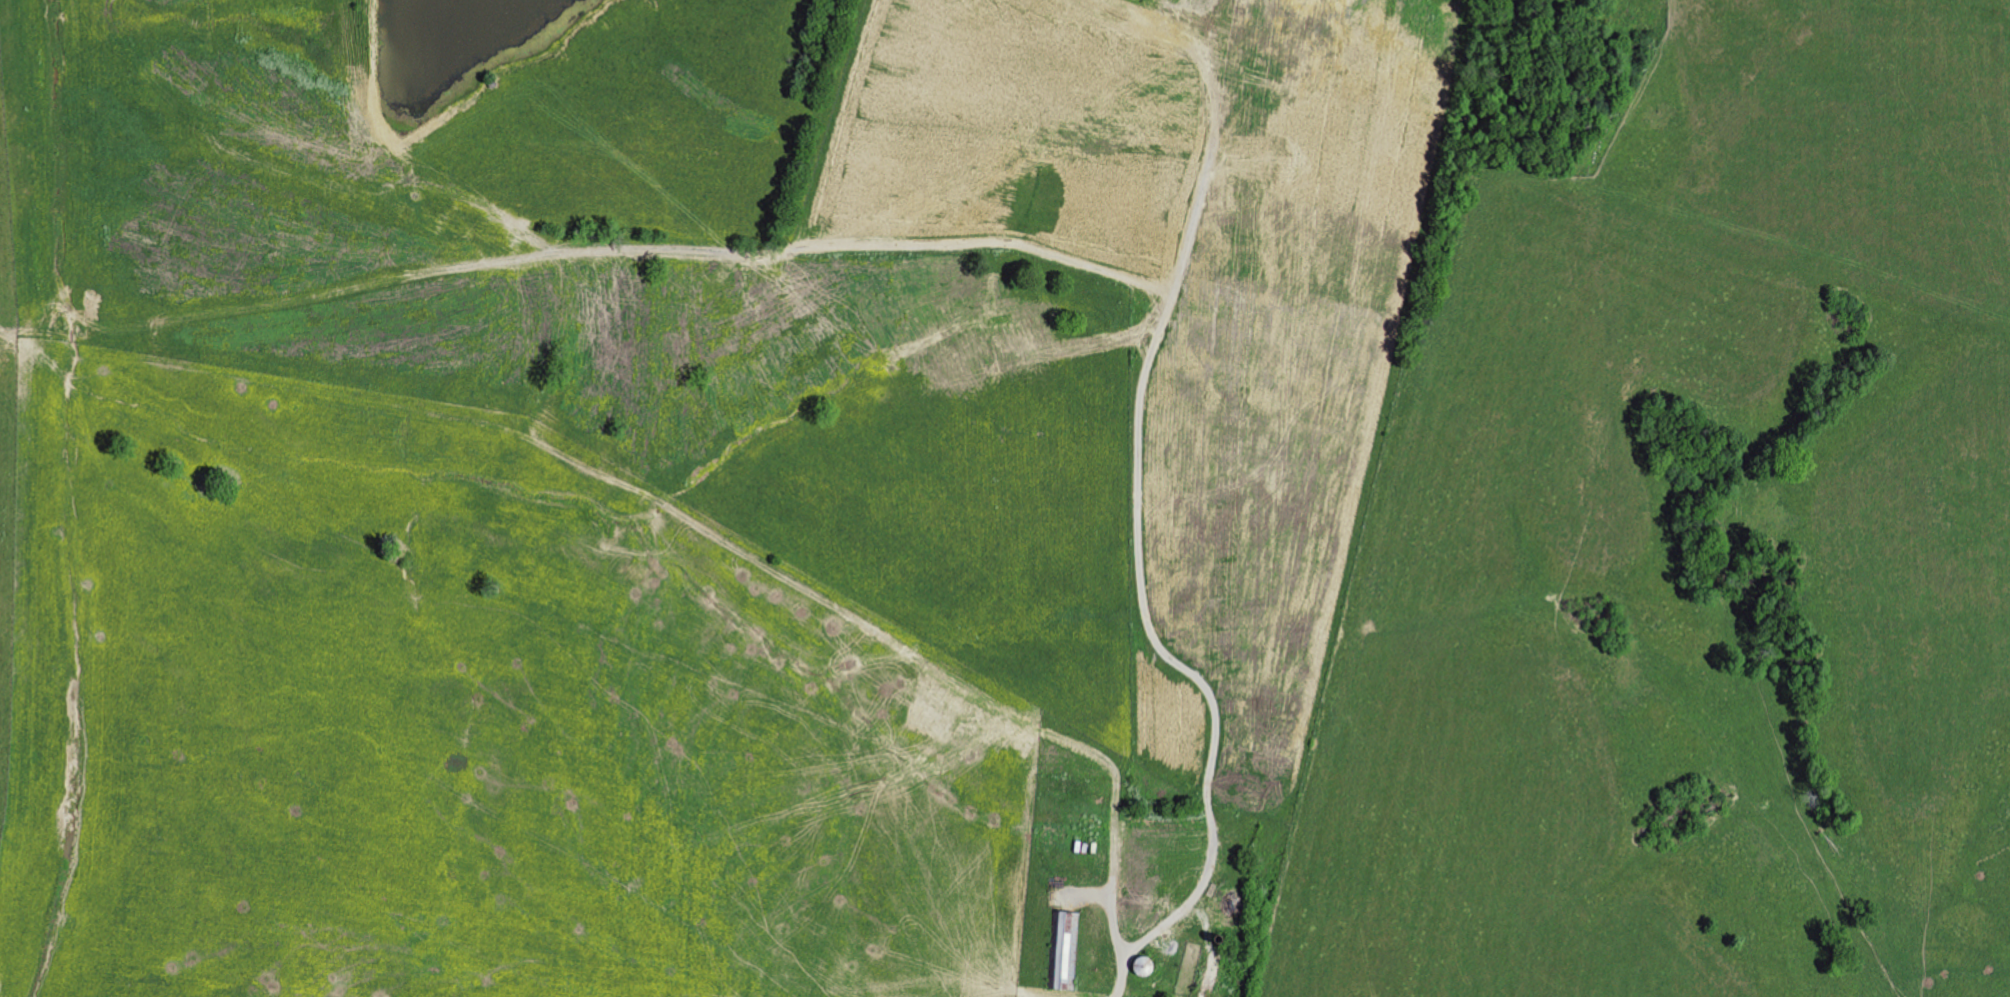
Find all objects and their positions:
road: (1115, 930)

